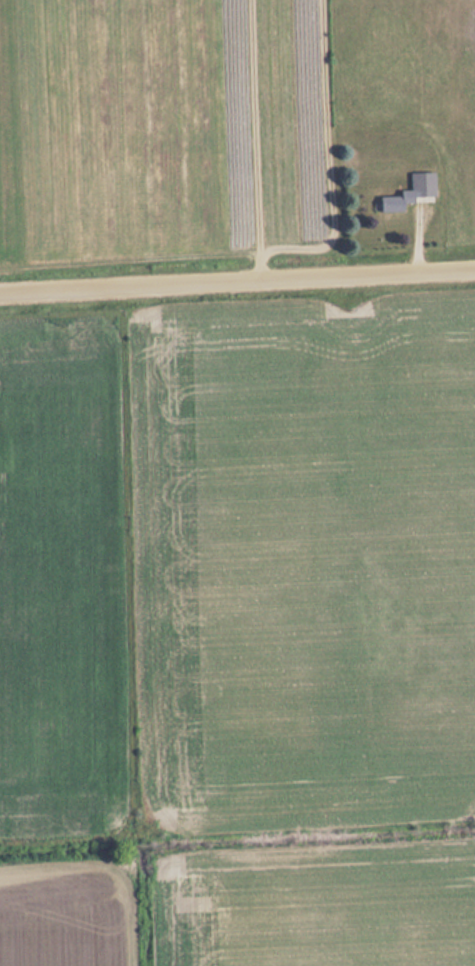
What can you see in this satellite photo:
building: (423, 185)
building: (394, 204)
road: (237, 282)

